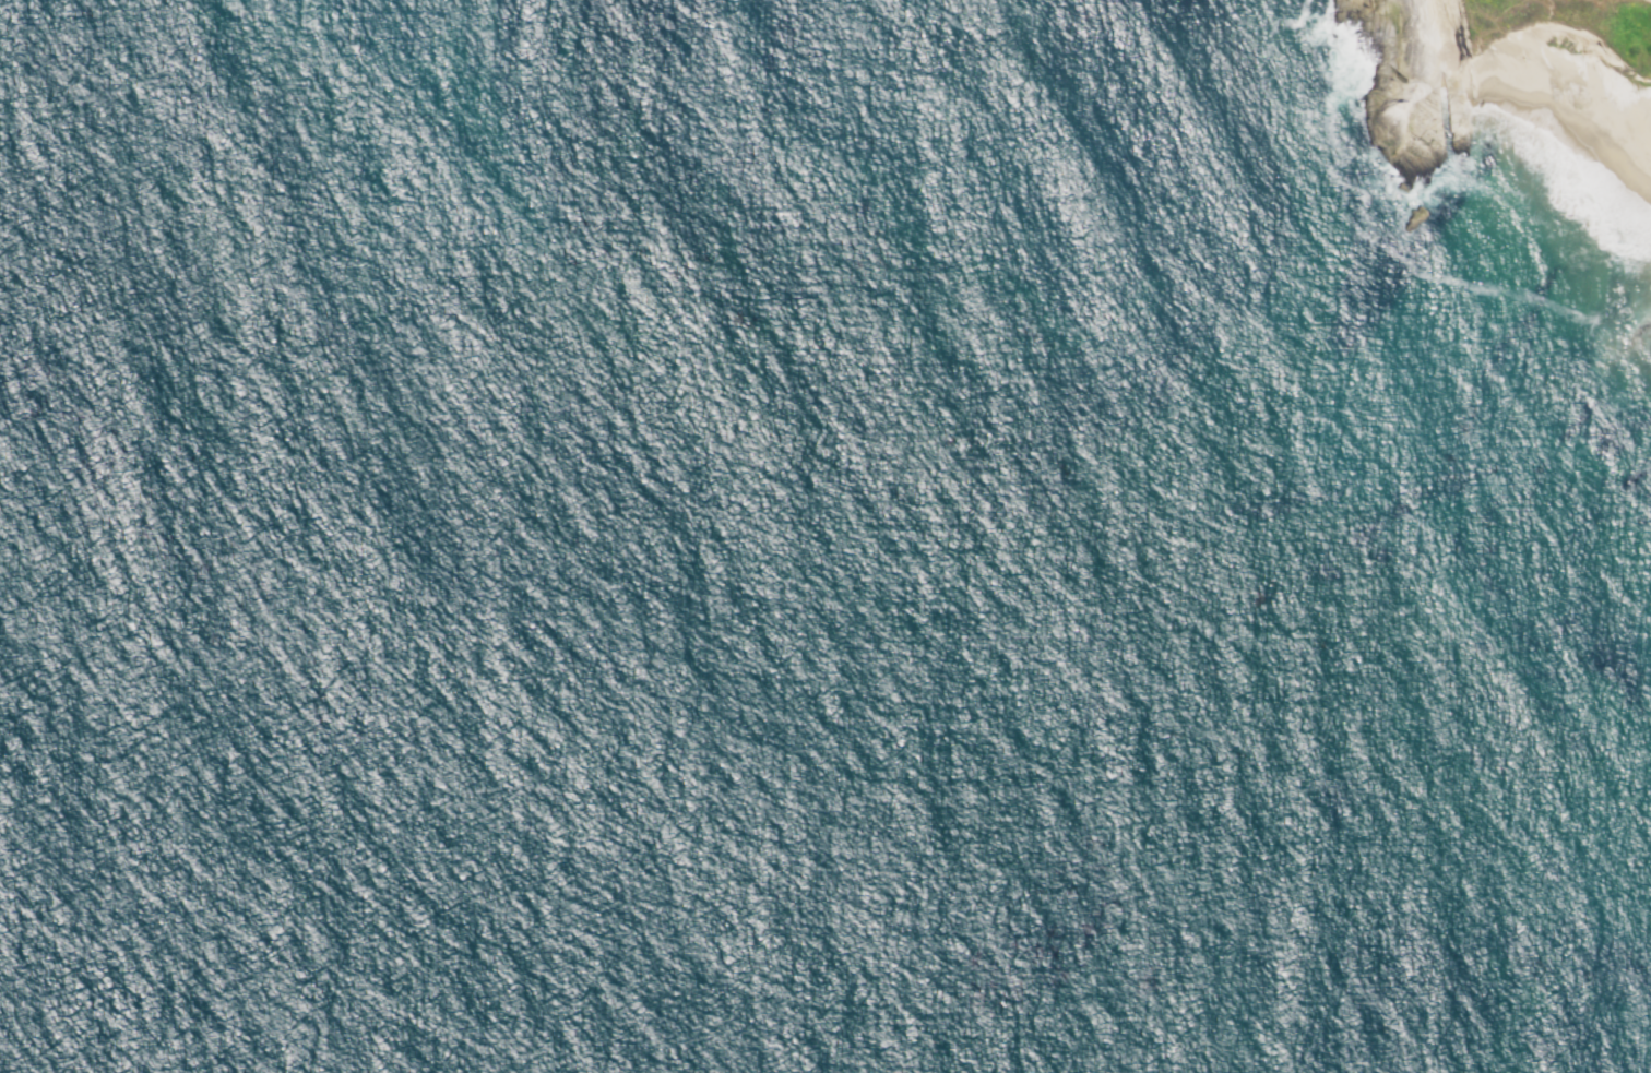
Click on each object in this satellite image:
road: (1648, 0)
road: (1650, 0)
road: (1482, 21)
road: (1517, 21)
road: (1582, 26)
road: (1478, 27)
park: (1541, 38)
road: (1472, 40)

